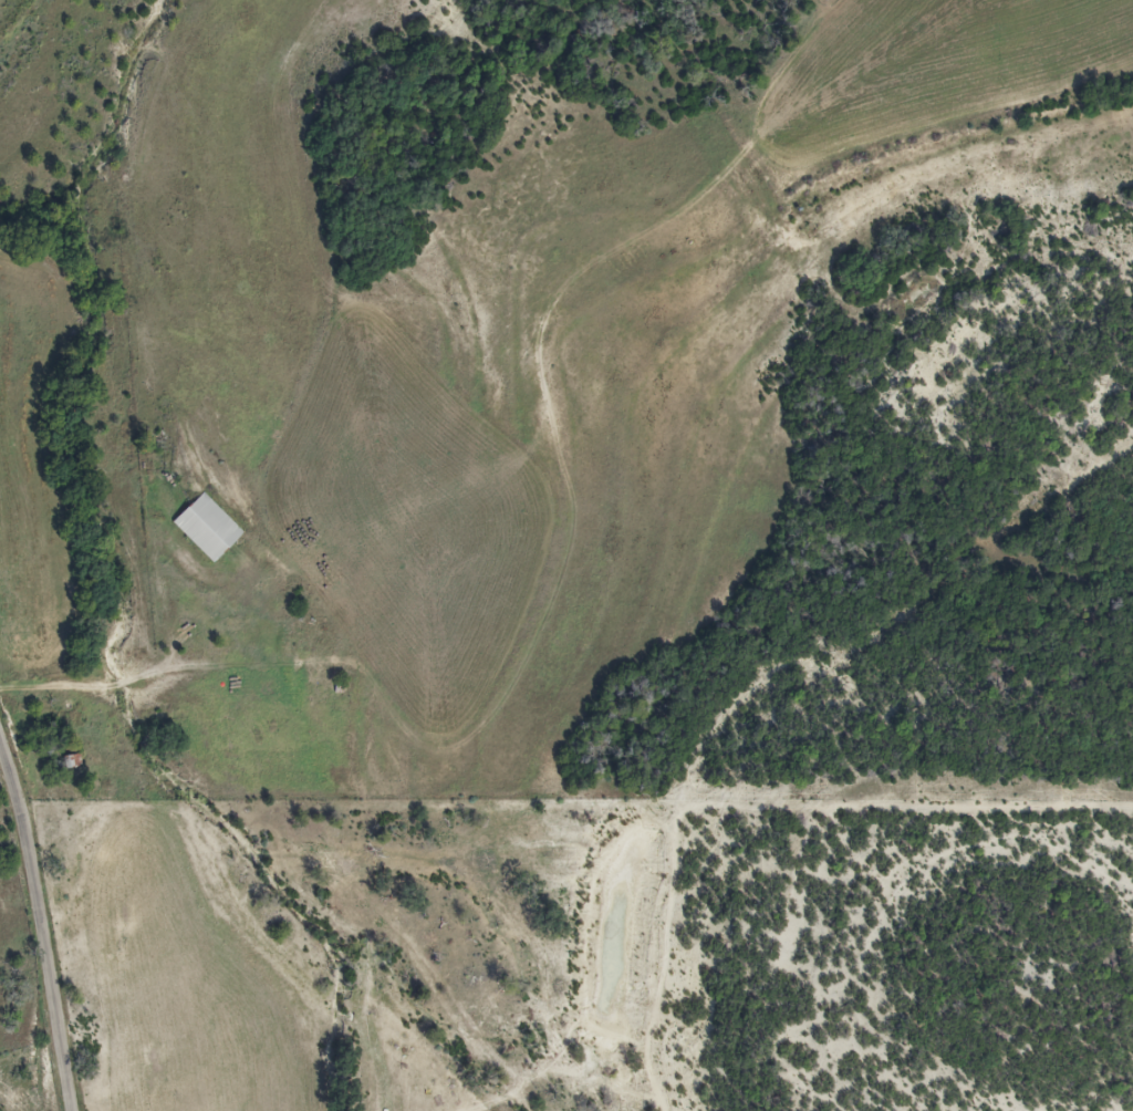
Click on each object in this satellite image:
building: (207, 528)
building: (72, 761)
road: (43, 925)

